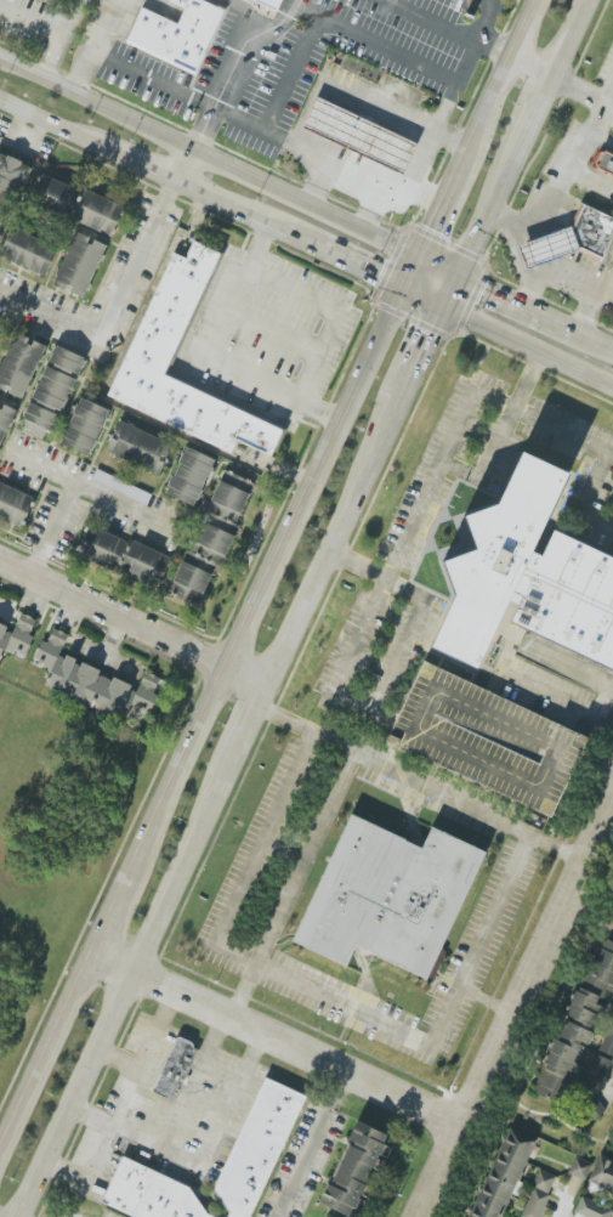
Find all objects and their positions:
road: (490, 2)
building: (269, 4)
road: (68, 21)
road: (29, 26)
road: (450, 28)
building: (177, 33)
parking lot: (403, 36)
road: (93, 47)
road: (50, 61)
road: (530, 66)
road: (419, 67)
parking lot: (602, 72)
road: (151, 77)
road: (217, 79)
road: (499, 79)
road: (581, 94)
road: (609, 98)
road: (279, 106)
road: (303, 114)
building: (358, 135)
road: (520, 137)
road: (601, 137)
road: (15, 152)
building: (605, 163)
road: (418, 164)
road: (227, 168)
road: (151, 174)
road: (590, 175)
building: (8, 183)
road: (318, 183)
road: (552, 189)
building: (75, 204)
road: (436, 208)
building: (591, 232)
road: (261, 239)
road: (490, 243)
road: (453, 247)
building: (549, 247)
gas station: (549, 247)
building: (27, 251)
traffic signals: (414, 256)
building: (78, 265)
road: (350, 268)
road: (523, 270)
road: (407, 273)
traffic signals: (455, 274)
road: (612, 285)
traffic signals: (399, 290)
road: (448, 291)
road: (475, 298)
road: (506, 299)
road: (589, 299)
road: (420, 300)
road: (115, 305)
traffic signals: (441, 310)
building: (165, 313)
road: (331, 313)
parking lot: (272, 333)
road: (271, 336)
road: (585, 338)
road: (526, 351)
road: (419, 353)
road: (208, 358)
building: (19, 364)
building: (51, 392)
road: (325, 415)
road: (390, 415)
building: (5, 419)
road: (509, 419)
road: (543, 425)
building: (84, 426)
building: (137, 448)
road: (460, 471)
building: (189, 476)
road: (592, 485)
building: (120, 487)
road: (93, 492)
building: (229, 497)
building: (13, 503)
road: (596, 523)
road: (49, 528)
road: (402, 542)
building: (505, 556)
building: (123, 557)
road: (319, 559)
building: (202, 561)
road: (374, 574)
building: (571, 594)
road: (131, 624)
building: (17, 636)
road: (562, 663)
road: (388, 675)
building: (92, 680)
road: (199, 714)
road: (244, 725)
building: (486, 735)
parking garage: (486, 735)
road: (418, 785)
park: (42, 816)
road: (263, 838)
road: (290, 883)
building: (387, 895)
road: (588, 918)
road: (479, 941)
road: (109, 957)
building: (592, 984)
road: (118, 989)
road: (322, 995)
road: (515, 1007)
building: (612, 1014)
building: (607, 1041)
road: (294, 1045)
road: (147, 1051)
building: (561, 1063)
building: (171, 1069)
building: (595, 1072)
road: (193, 1080)
road: (126, 1097)
road: (607, 1098)
building: (591, 1110)
building: (612, 1115)
building: (263, 1127)
road: (311, 1143)
road: (199, 1164)
building: (579, 1167)
building: (353, 1168)
building: (503, 1172)
road: (89, 1174)
building: (602, 1176)
building: (538, 1195)
road: (567, 1198)
building: (591, 1208)
building: (325, 1216)

